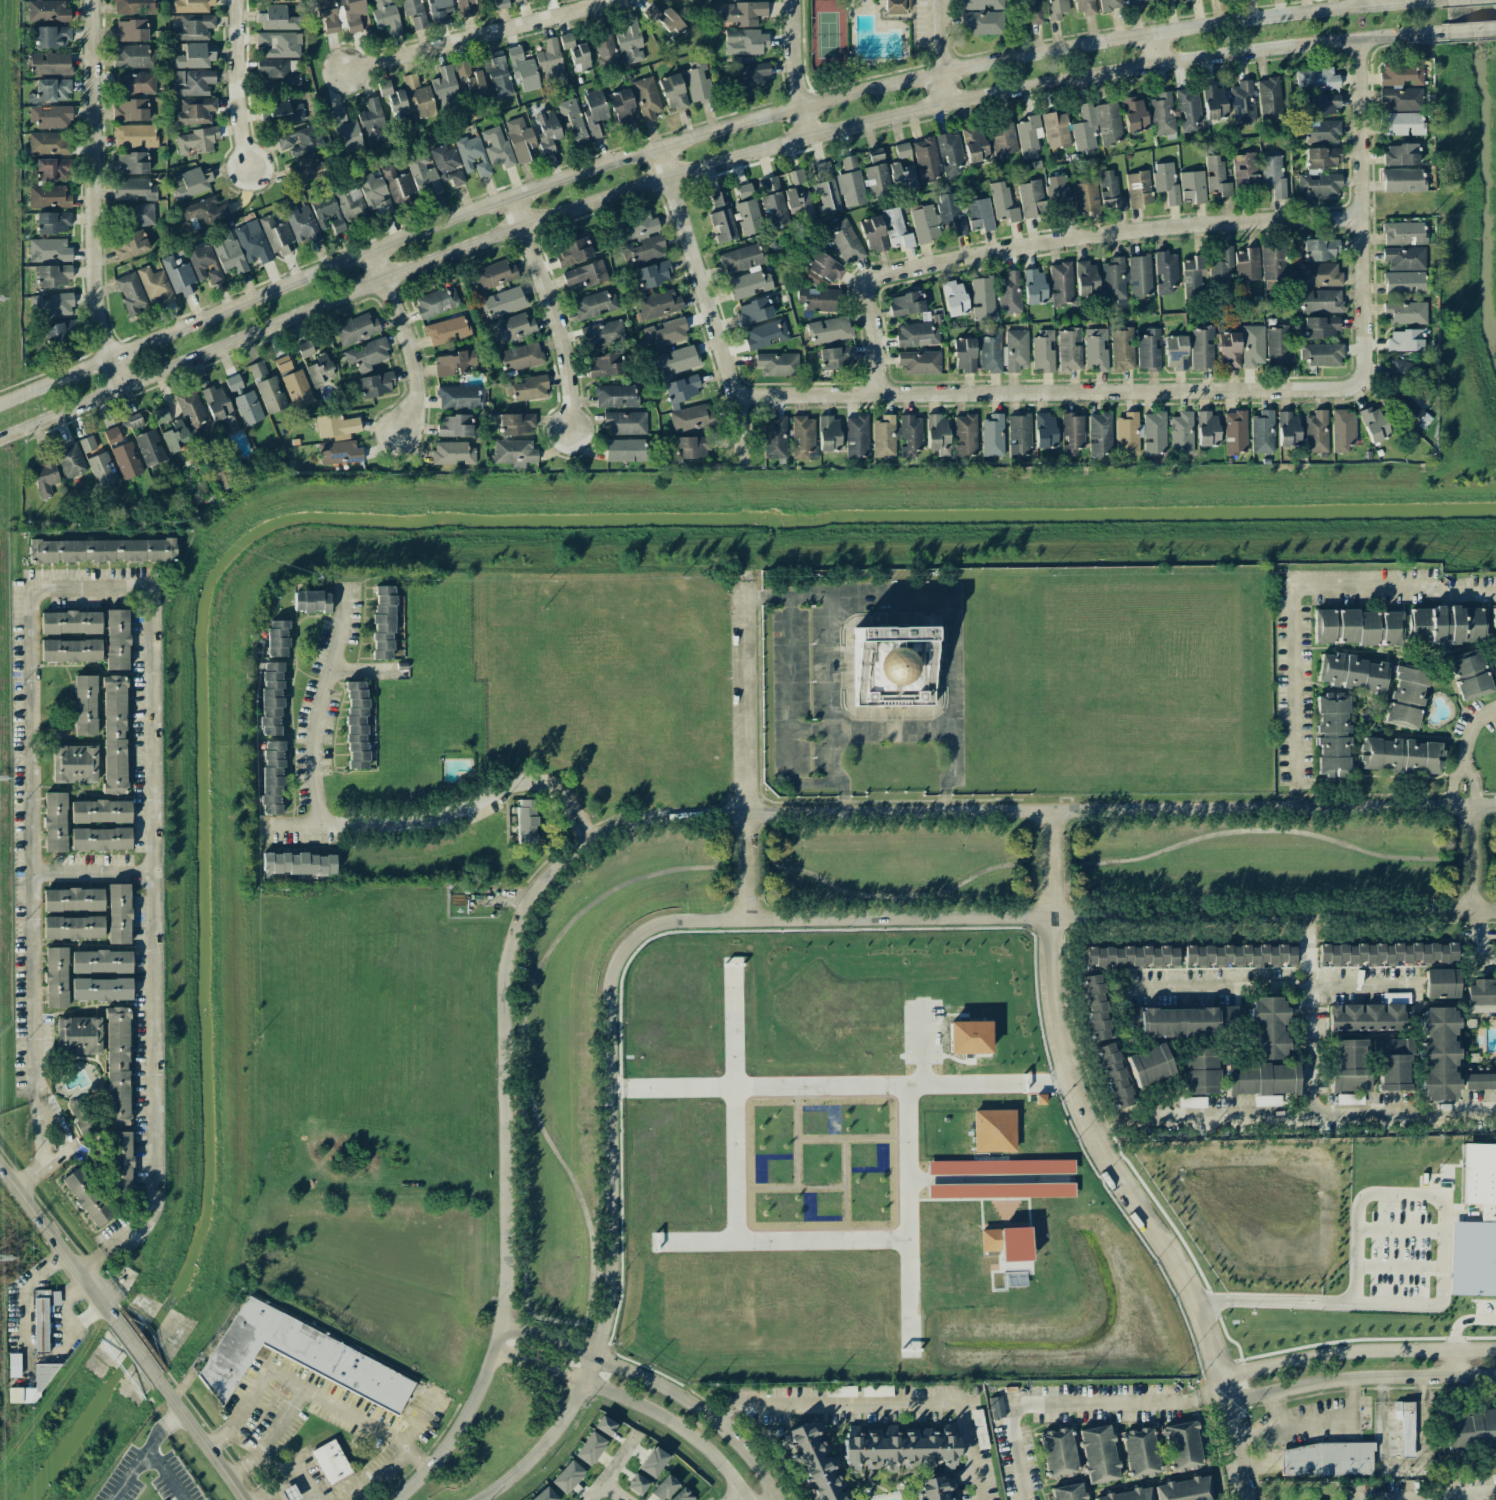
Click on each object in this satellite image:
building: (280, 0)
building: (685, 0)
building: (1132, 0)
building: (522, 1)
building: (1163, 1)
road: (1357, 2)
building: (500, 4)
building: (982, 4)
building: (1109, 5)
building: (191, 6)
building: (897, 6)
building: (133, 7)
building: (466, 7)
building: (1083, 7)
building: (1057, 9)
building: (47, 11)
building: (439, 11)
building: (1031, 11)
building: (413, 12)
building: (743, 12)
building: (327, 14)
building: (352, 14)
building: (386, 17)
building: (276, 18)
building: (665, 20)
building: (981, 22)
building: (193, 27)
building: (130, 30)
road: (1471, 30)
park: (828, 33)
building: (51, 37)
road: (482, 37)
park: (865, 37)
building: (629, 40)
building: (745, 42)
building: (279, 44)
building: (605, 47)
road: (939, 50)
road: (1152, 50)
building: (575, 53)
building: (133, 56)
building: (193, 57)
building: (550, 62)
building: (49, 63)
road: (796, 68)
building: (523, 69)
building: (279, 71)
building: (1399, 74)
building: (499, 76)
building: (748, 76)
building: (469, 78)
building: (1316, 79)
building: (698, 81)
building: (134, 82)
building: (192, 82)
road: (236, 83)
building: (445, 88)
building: (673, 92)
building: (418, 95)
building: (1269, 98)
building: (394, 99)
building: (647, 99)
building: (1401, 99)
building: (1214, 102)
building: (1242, 102)
building: (1321, 105)
building: (622, 107)
building: (1188, 109)
building: (131, 110)
building: (194, 111)
building: (595, 113)
building: (1134, 114)
building: (1162, 114)
building: (51, 116)
building: (572, 119)
building: (372, 120)
building: (1401, 124)
building: (1097, 126)
building: (344, 129)
building: (1055, 130)
building: (547, 131)
building: (1321, 131)
building: (134, 135)
building: (1029, 136)
building: (1003, 137)
building: (520, 139)
road: (690, 139)
building: (197, 140)
building: (297, 141)
building: (47, 143)
building: (975, 144)
building: (497, 147)
building: (902, 150)
building: (1401, 154)
building: (472, 155)
building: (1322, 157)
building: (926, 159)
building: (130, 164)
building: (447, 165)
road: (705, 167)
building: (305, 168)
building: (51, 169)
building: (1245, 170)
building: (423, 173)
building: (1273, 174)
building: (904, 175)
building: (1216, 176)
building: (876, 180)
building: (1403, 180)
building: (1165, 181)
building: (190, 183)
building: (1319, 184)
building: (398, 186)
building: (1192, 186)
building: (826, 187)
building: (133, 189)
building: (1138, 189)
building: (1110, 192)
building: (374, 193)
road: (95, 194)
building: (47, 196)
building: (1059, 197)
building: (1086, 198)
building: (1031, 199)
building: (773, 203)
building: (1003, 203)
building: (339, 207)
building: (205, 211)
building: (747, 211)
building: (952, 213)
road: (1362, 213)
building: (979, 214)
building: (138, 215)
building: (721, 216)
building: (52, 222)
building: (302, 223)
building: (924, 224)
building: (637, 226)
building: (896, 229)
building: (1403, 233)
building: (873, 234)
building: (277, 236)
building: (846, 241)
building: (252, 242)
road: (1055, 244)
building: (129, 245)
building: (1320, 249)
building: (49, 250)
building: (642, 250)
building: (228, 251)
building: (572, 252)
building: (1404, 258)
building: (1273, 262)
building: (204, 263)
building: (1247, 264)
building: (821, 269)
building: (1221, 269)
building: (744, 271)
building: (1166, 272)
building: (1194, 272)
building: (584, 273)
building: (653, 274)
building: (494, 275)
building: (1319, 275)
building: (53, 276)
building: (179, 276)
building: (1126, 277)
building: (1087, 278)
building: (1061, 284)
building: (155, 285)
building: (1034, 286)
building: (1009, 292)
building: (131, 293)
building: (1404, 297)
building: (955, 298)
building: (983, 298)
building: (818, 299)
power tower: (0, 301)
building: (1321, 301)
building: (436, 302)
building: (503, 302)
building: (595, 303)
building: (906, 303)
building: (50, 305)
building: (658, 305)
road: (704, 308)
building: (753, 311)
road: (549, 313)
building: (1321, 327)
building: (512, 328)
building: (356, 329)
building: (446, 330)
building: (830, 330)
building: (60, 333)
building: (603, 333)
building: (764, 334)
building: (666, 335)
building: (916, 335)
road: (402, 340)
building: (1404, 340)
building: (1252, 346)
building: (1277, 346)
building: (1201, 348)
building: (305, 349)
building: (1095, 349)
building: (1122, 349)
building: (1015, 350)
building: (1043, 350)
building: (1069, 350)
building: (1148, 350)
building: (1229, 350)
building: (990, 351)
building: (1175, 352)
building: (367, 354)
building: (1321, 354)
building: (964, 355)
building: (521, 357)
building: (836, 358)
building: (676, 360)
building: (919, 362)
building: (454, 363)
building: (777, 364)
building: (606, 365)
building: (1402, 369)
building: (319, 370)
building: (234, 383)
building: (294, 383)
building: (376, 384)
building: (267, 388)
building: (527, 388)
building: (683, 389)
road: (1044, 393)
building: (616, 396)
building: (457, 397)
building: (216, 402)
building: (1403, 405)
building: (248, 408)
building: (191, 412)
building: (690, 418)
building: (625, 422)
building: (516, 424)
building: (1374, 424)
building: (454, 425)
building: (336, 427)
building: (1207, 429)
building: (1288, 429)
building: (171, 430)
building: (1342, 430)
building: (1044, 431)
building: (1316, 431)
building: (1234, 432)
building: (1261, 432)
building: (829, 433)
building: (1072, 433)
building: (1099, 433)
building: (1127, 433)
building: (1153, 433)
building: (1181, 433)
building: (937, 434)
building: (965, 435)
building: (1018, 435)
building: (896, 436)
building: (991, 436)
building: (774, 437)
building: (802, 437)
building: (856, 437)
building: (147, 442)
building: (692, 446)
building: (625, 450)
building: (339, 452)
building: (513, 452)
building: (452, 453)
building: (123, 454)
building: (69, 461)
building: (98, 462)
building: (44, 478)
river: (356, 518)
building: (102, 550)
road: (1294, 587)
road: (855, 597)
road: (753, 599)
building: (311, 601)
road: (149, 616)
building: (71, 622)
building: (383, 622)
building: (1446, 625)
building: (1358, 627)
building: (1495, 637)
building: (277, 638)
building: (117, 639)
building: (71, 650)
building: (892, 665)
road: (368, 670)
building: (1352, 673)
building: (1469, 674)
road: (746, 692)
road: (951, 696)
building: (1407, 697)
building: (271, 698)
road: (829, 701)
road: (320, 702)
building: (85, 705)
road: (789, 710)
building: (356, 724)
road: (1470, 728)
road: (870, 730)
building: (114, 735)
building: (1333, 735)
building: (1400, 756)
building: (74, 764)
building: (272, 777)
road: (1472, 783)
road: (1453, 784)
road: (943, 802)
road: (841, 803)
building: (100, 811)
road: (678, 813)
road: (430, 818)
building: (525, 821)
building: (54, 822)
building: (511, 823)
road: (581, 824)
building: (100, 839)
building: (298, 864)
road: (749, 866)
road: (92, 872)
road: (944, 889)
road: (1467, 891)
building: (73, 899)
building: (118, 914)
road: (756, 918)
building: (73, 927)
road: (1309, 927)
building: (1387, 954)
building: (1239, 956)
building: (1130, 957)
building: (101, 961)
building: (56, 977)
building: (1441, 983)
road: (1265, 986)
building: (101, 989)
building: (1481, 995)
building: (1096, 1007)
building: (1368, 1016)
building: (1183, 1021)
building: (1267, 1027)
road: (1310, 1030)
building: (78, 1036)
building: (1438, 1053)
building: (1390, 1064)
building: (1149, 1065)
building: (117, 1066)
building: (1349, 1066)
building: (1200, 1070)
building: (1115, 1075)
building: (1262, 1081)
building: (1479, 1081)
building: (1352, 1098)
building: (1192, 1102)
road: (908, 1104)
road: (1309, 1118)
road: (1110, 1127)
building: (993, 1131)
road: (41, 1148)
building: (118, 1161)
road: (1114, 1164)
building: (87, 1198)
building: (1475, 1226)
road: (56, 1242)
building: (1006, 1243)
power tower: (4, 1260)
road: (92, 1265)
road: (1441, 1276)
road: (25, 1288)
building: (43, 1316)
road: (69, 1319)
road: (1463, 1321)
road: (566, 1324)
road: (136, 1350)
road: (1357, 1353)
building: (298, 1357)
road: (1457, 1364)
building: (14, 1365)
road: (615, 1367)
building: (42, 1376)
road: (1360, 1377)
road: (306, 1390)
building: (840, 1391)
building: (877, 1391)
road: (1211, 1392)
road: (891, 1398)
road: (1056, 1400)
road: (633, 1403)
building: (996, 1407)
road: (1310, 1421)
building: (605, 1426)
building: (1405, 1427)
building: (1471, 1429)
road: (269, 1436)
road: (202, 1439)
road: (1272, 1439)
building: (1182, 1446)
building: (902, 1448)
building: (590, 1449)
road: (151, 1453)
building: (1057, 1453)
building: (1139, 1453)
building: (1098, 1454)
road: (399, 1455)
building: (1326, 1459)
road: (292, 1460)
building: (330, 1461)
road: (749, 1461)
building: (813, 1461)
building: (653, 1462)
road: (612, 1468)
road: (129, 1474)
building: (567, 1477)
building: (637, 1484)
building: (664, 1488)
building: (937, 1488)
building: (1184, 1490)
road: (613, 1492)
building: (1068, 1492)
road: (1423, 1492)
road: (265, 1493)
road: (1495, 1494)
building: (544, 1495)
building: (682, 1495)
building: (1128, 1495)
road: (358, 1496)
road: (767, 1497)

